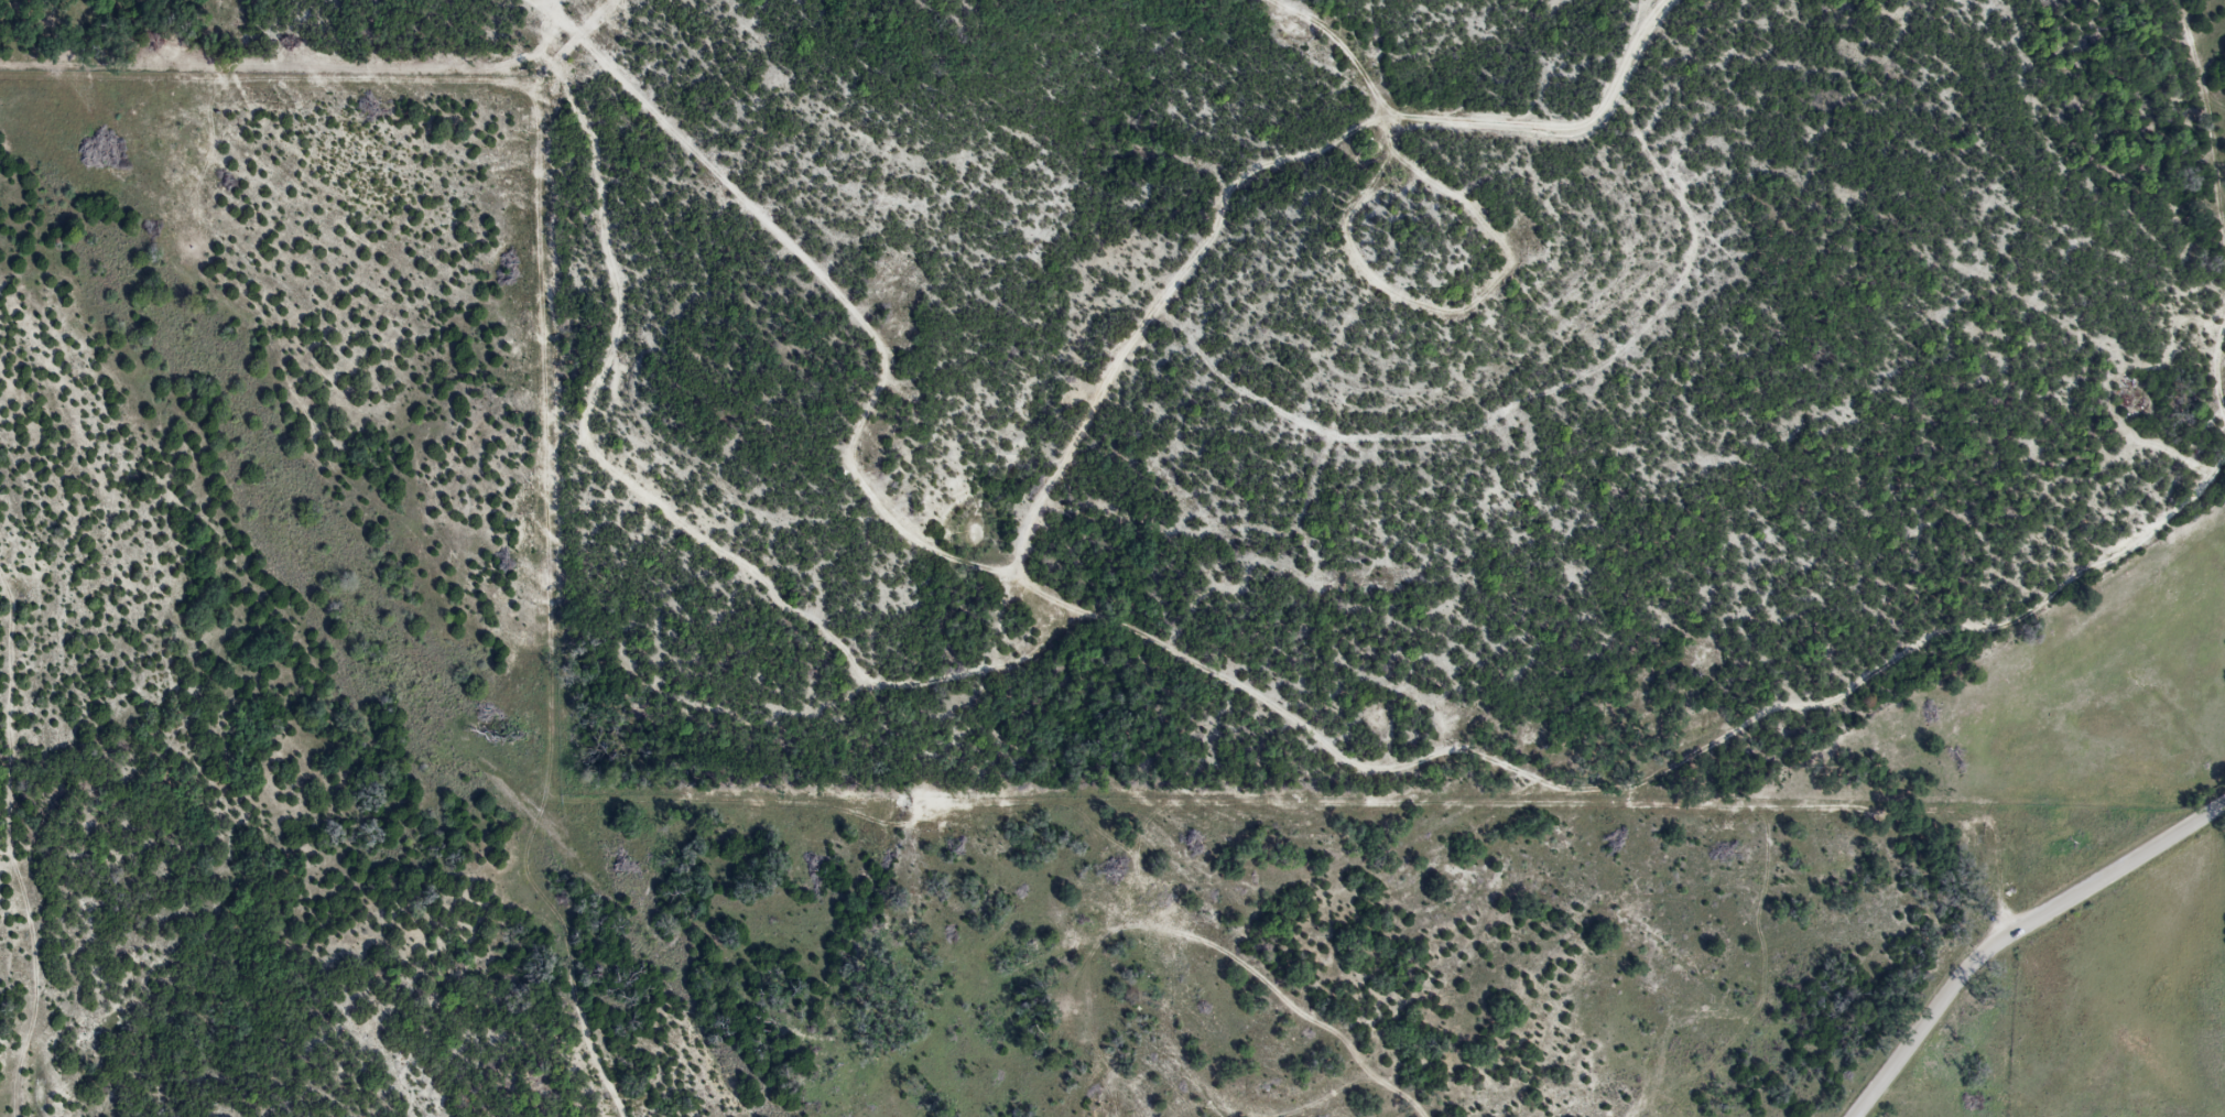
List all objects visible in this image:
road: (2015, 930)

